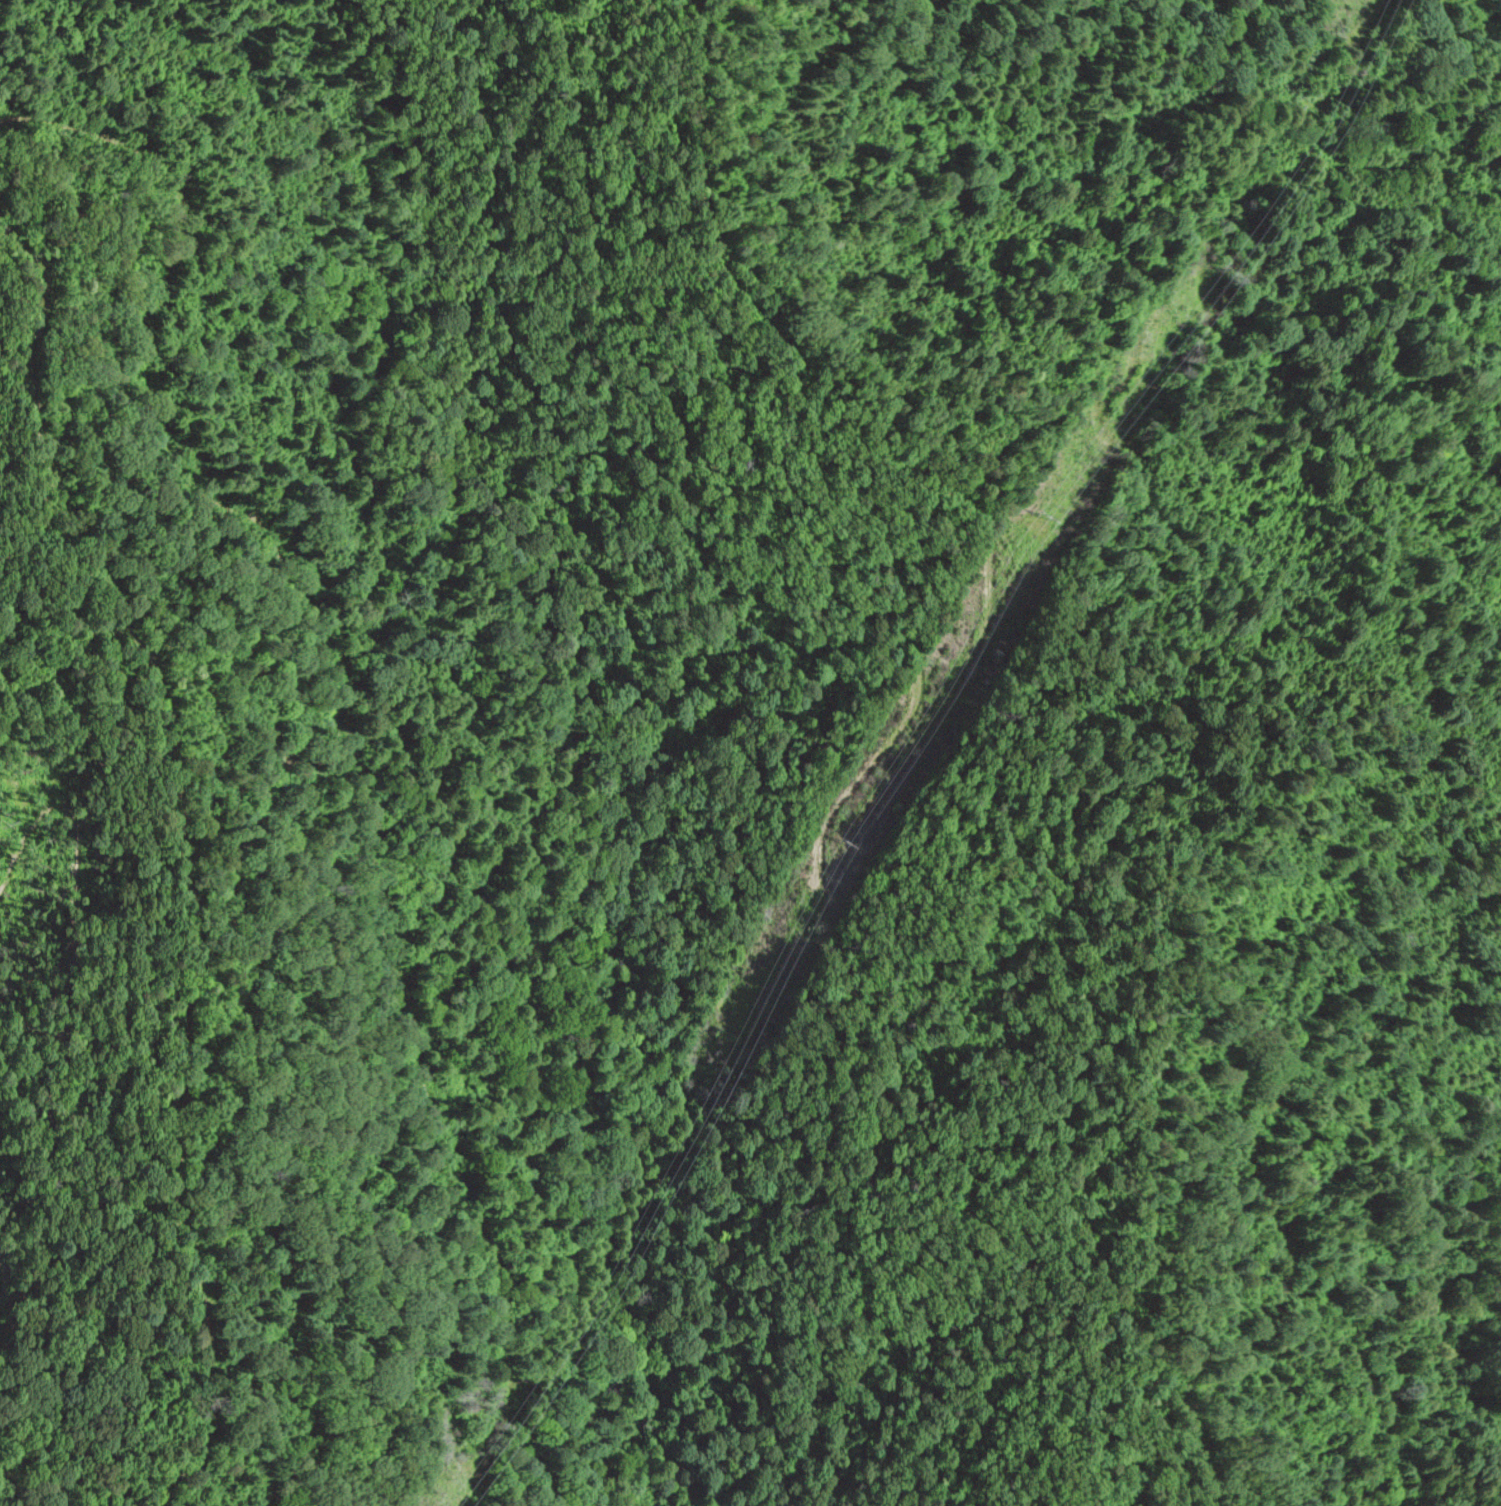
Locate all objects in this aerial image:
power tower: (1033, 516)

